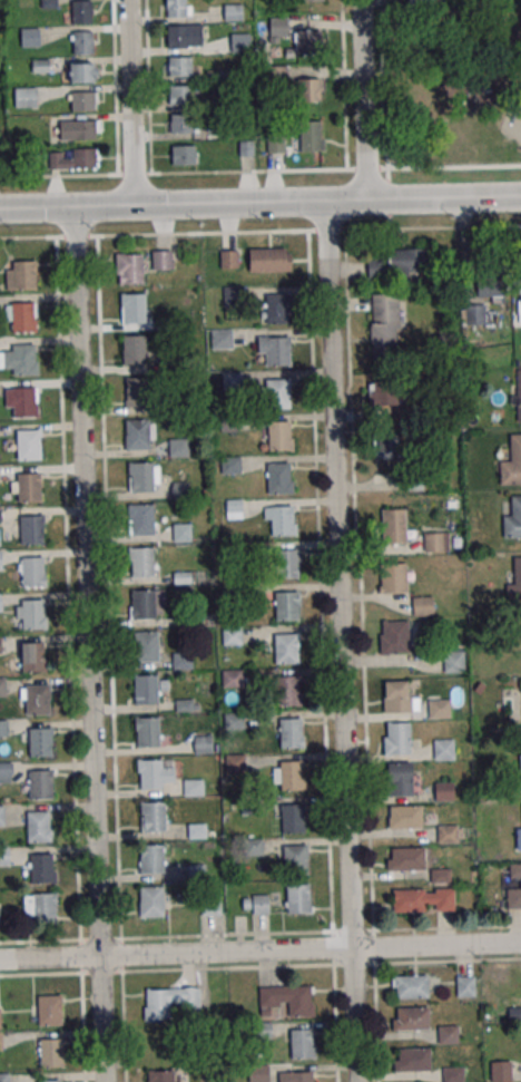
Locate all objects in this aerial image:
building: (308, 0)
building: (421, 4)
building: (175, 8)
building: (79, 11)
building: (233, 12)
building: (278, 28)
building: (183, 35)
building: (30, 37)
building: (81, 41)
building: (239, 42)
building: (307, 42)
road: (448, 43)
building: (424, 52)
building: (178, 66)
building: (82, 71)
road: (381, 84)
park: (453, 86)
building: (308, 89)
building: (180, 95)
building: (26, 97)
road: (364, 99)
building: (83, 100)
road: (131, 103)
road: (444, 118)
building: (181, 123)
building: (79, 129)
building: (311, 137)
building: (276, 145)
building: (247, 147)
building: (181, 155)
building: (73, 158)
road: (453, 166)
road: (260, 203)
road: (259, 232)
building: (159, 259)
building: (227, 259)
building: (269, 260)
building: (396, 263)
building: (130, 269)
building: (22, 275)
building: (491, 286)
building: (519, 289)
building: (233, 295)
building: (132, 308)
building: (276, 309)
building: (21, 316)
building: (383, 328)
building: (220, 339)
building: (132, 349)
building: (275, 350)
building: (22, 359)
building: (174, 362)
building: (230, 381)
building: (382, 390)
building: (136, 391)
building: (276, 393)
building: (22, 401)
building: (518, 404)
building: (227, 422)
building: (135, 433)
building: (277, 435)
building: (27, 445)
building: (386, 445)
building: (177, 448)
building: (511, 462)
building: (229, 465)
building: (140, 477)
building: (277, 478)
building: (28, 487)
building: (180, 490)
building: (234, 507)
building: (512, 518)
building: (140, 519)
building: (281, 520)
building: (393, 523)
building: (30, 529)
building: (180, 533)
building: (436, 542)
building: (1, 559)
building: (141, 562)
building: (285, 563)
building: (31, 572)
building: (390, 577)
road: (320, 581)
road: (358, 581)
building: (514, 581)
building: (0, 602)
building: (141, 604)
building: (285, 606)
building: (422, 606)
building: (31, 614)
building: (230, 635)
building: (393, 636)
road: (341, 642)
road: (89, 644)
building: (145, 646)
building: (285, 649)
building: (31, 657)
road: (110, 659)
road: (69, 660)
building: (181, 660)
building: (454, 661)
building: (230, 679)
building: (1, 688)
building: (144, 689)
building: (285, 691)
building: (394, 696)
building: (36, 699)
building: (185, 704)
building: (438, 709)
building: (232, 721)
building: (2, 729)
building: (146, 732)
building: (289, 732)
building: (397, 738)
building: (39, 741)
building: (201, 744)
building: (442, 749)
building: (520, 753)
building: (234, 763)
building: (6, 771)
building: (149, 774)
building: (289, 776)
building: (397, 779)
building: (38, 784)
building: (191, 787)
building: (442, 791)
building: (1, 816)
building: (405, 816)
building: (151, 817)
building: (291, 819)
building: (37, 827)
building: (197, 830)
building: (446, 832)
building: (518, 839)
building: (3, 856)
building: (405, 858)
building: (150, 859)
building: (293, 860)
building: (39, 869)
building: (441, 876)
building: (520, 883)
building: (296, 898)
building: (423, 899)
building: (151, 901)
building: (255, 904)
building: (210, 905)
building: (42, 908)
road: (352, 930)
road: (259, 951)
building: (410, 985)
building: (463, 986)
building: (286, 1000)
building: (168, 1001)
building: (47, 1010)
building: (0, 1017)
building: (411, 1018)
building: (446, 1034)
building: (301, 1043)
building: (0, 1044)
building: (49, 1052)
building: (412, 1060)
building: (501, 1071)
building: (257, 1073)
building: (451, 1074)
building: (160, 1075)
building: (299, 1076)
building: (3, 1078)
building: (48, 1081)

